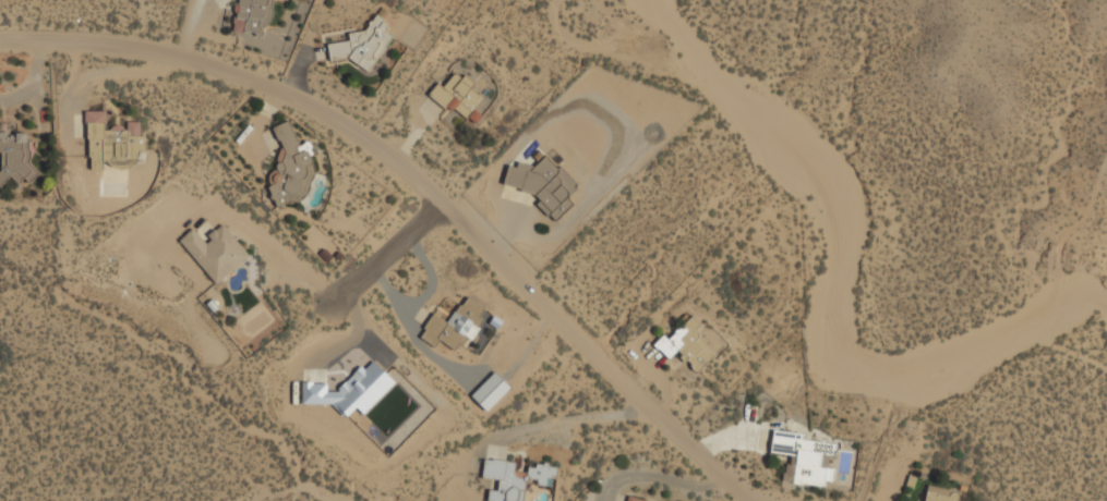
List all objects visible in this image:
building: (251, 17)
building: (363, 46)
building: (458, 100)
building: (112, 143)
building: (14, 158)
building: (289, 168)
building: (543, 186)
road: (422, 192)
building: (214, 252)
road: (386, 256)
building: (454, 327)
building: (686, 345)
building: (349, 390)
building: (490, 391)
building: (804, 460)
building: (515, 478)
building: (940, 494)
building: (633, 500)

